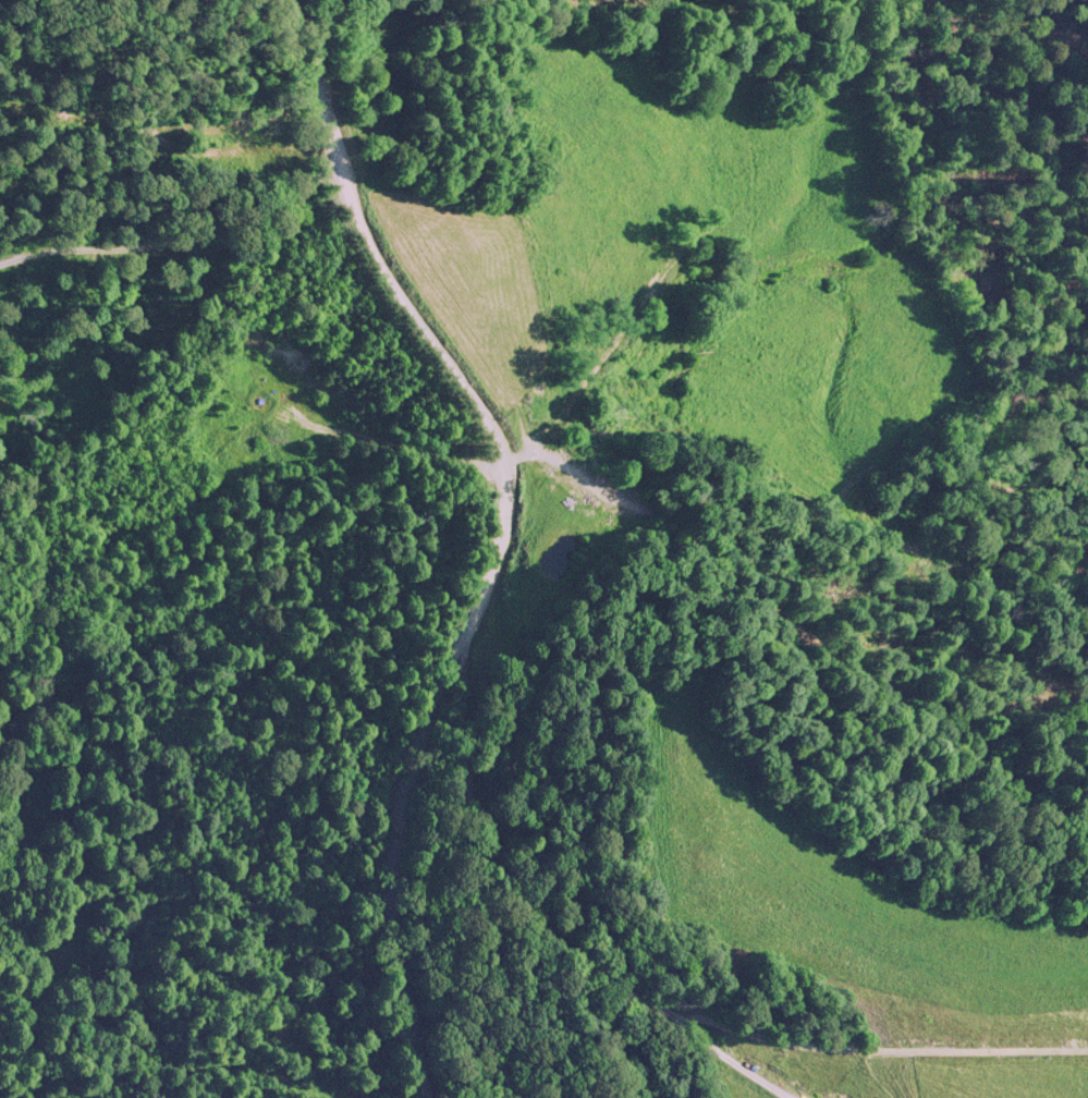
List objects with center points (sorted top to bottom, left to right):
road: (455, 538)
road: (584, 984)
road: (896, 1051)

